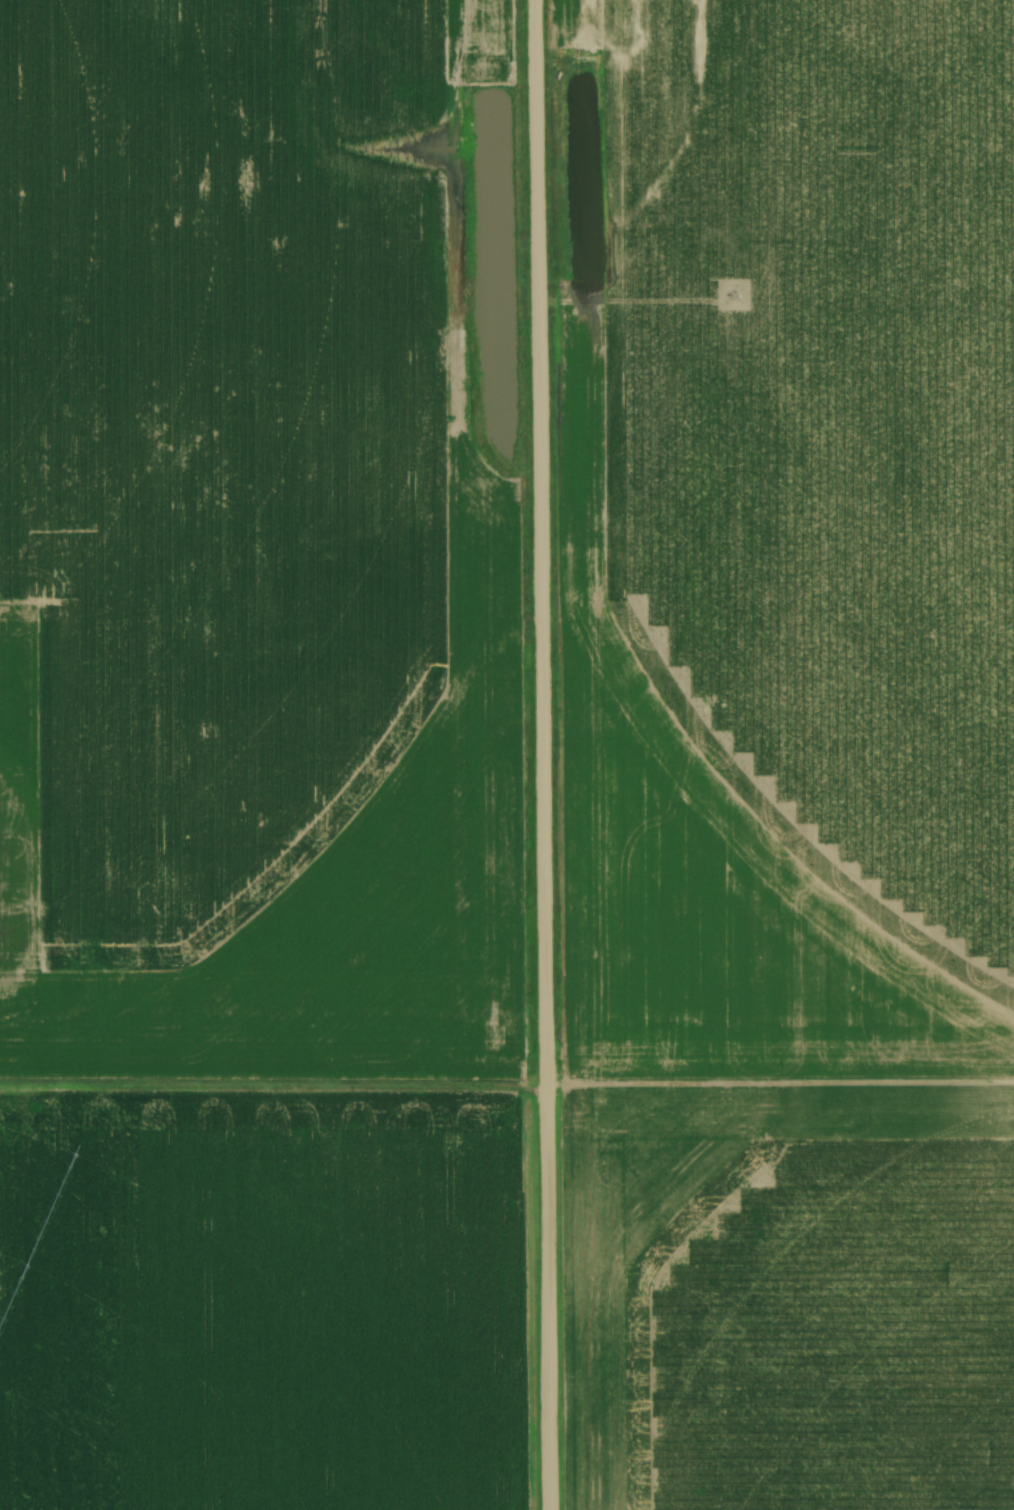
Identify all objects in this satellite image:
road: (541, 754)

